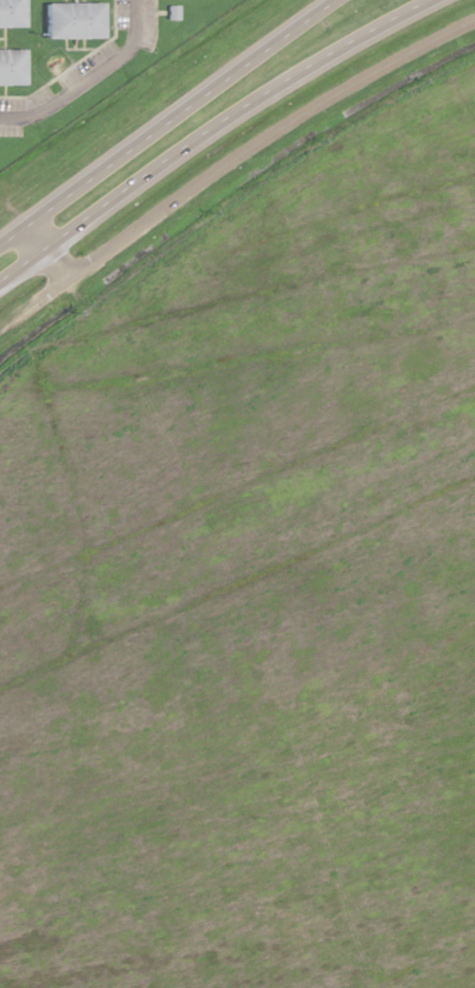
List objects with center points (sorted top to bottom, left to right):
building: (9, 17)
building: (69, 26)
building: (8, 74)
road: (87, 75)
road: (164, 122)
road: (205, 129)
road: (229, 160)
road: (40, 255)

